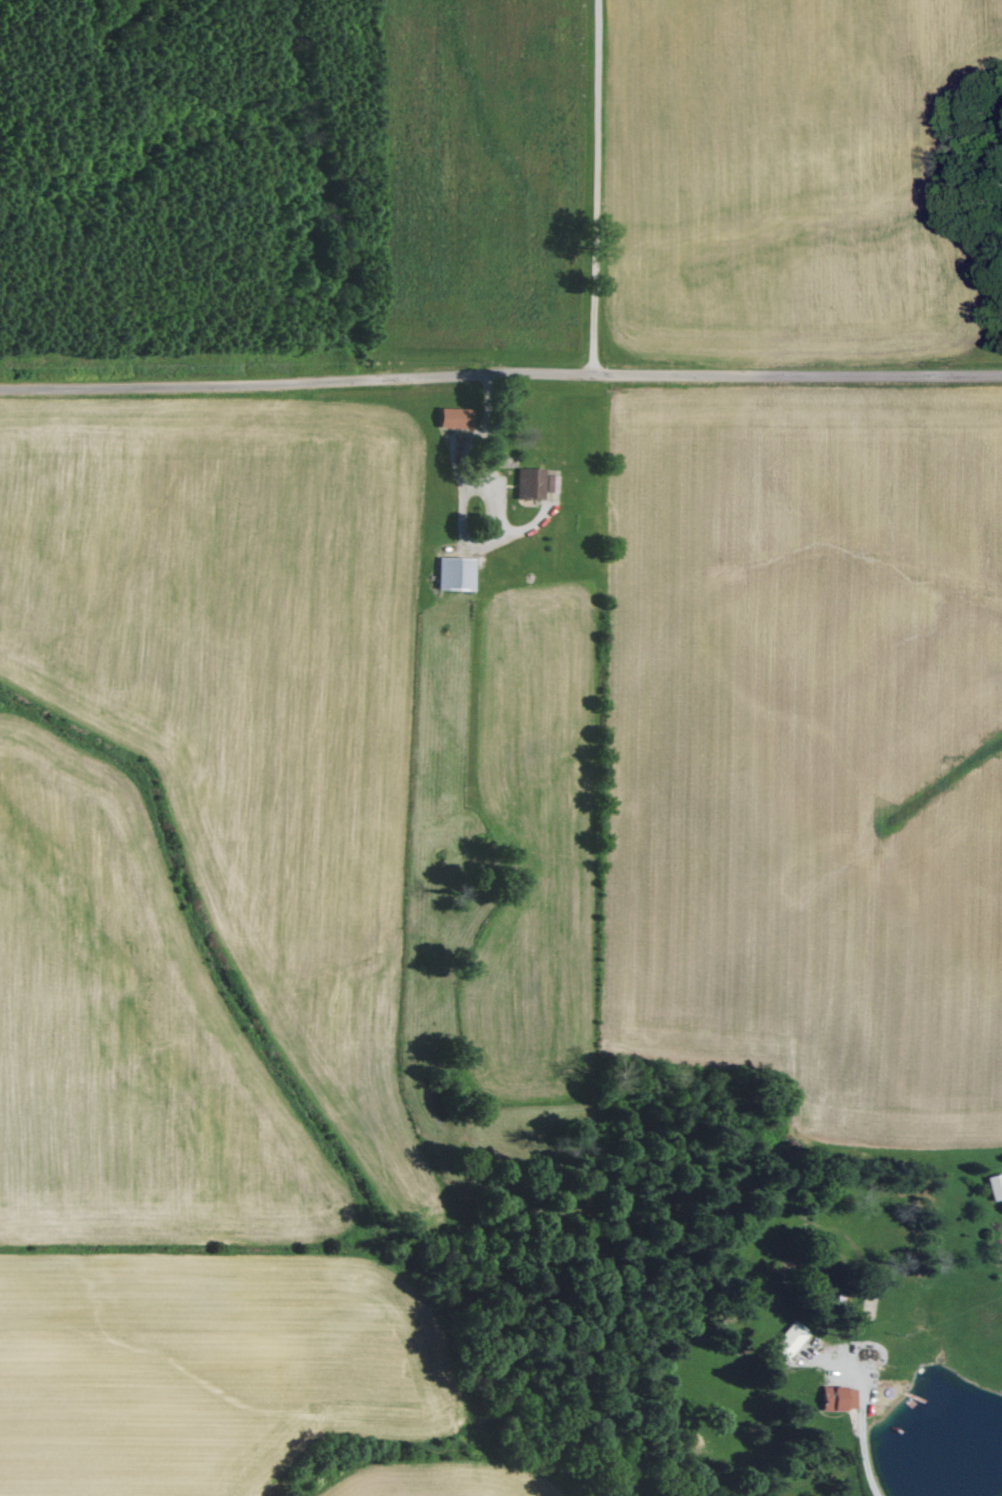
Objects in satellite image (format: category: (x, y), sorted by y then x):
road: (596, 187)
road: (501, 375)
road: (494, 438)
building: (529, 484)
building: (457, 574)
building: (996, 1188)
building: (790, 1341)
road: (871, 1454)

